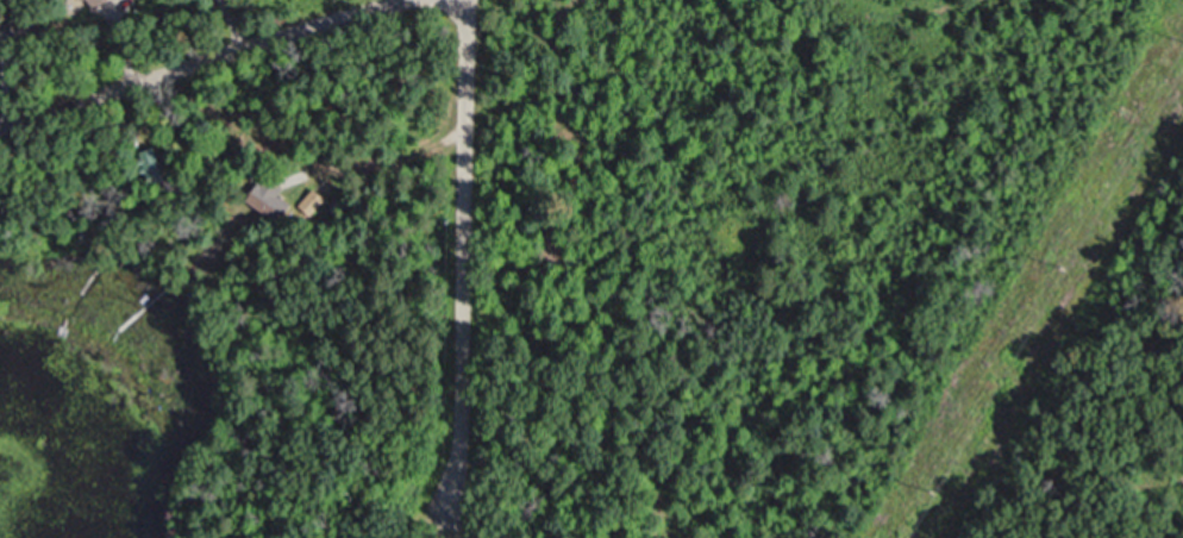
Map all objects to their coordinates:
building: (102, 2)
building: (2, 29)
road: (199, 64)
building: (157, 169)
building: (314, 204)
building: (280, 209)
road: (461, 254)
power tower: (1064, 265)
power tower: (931, 492)

